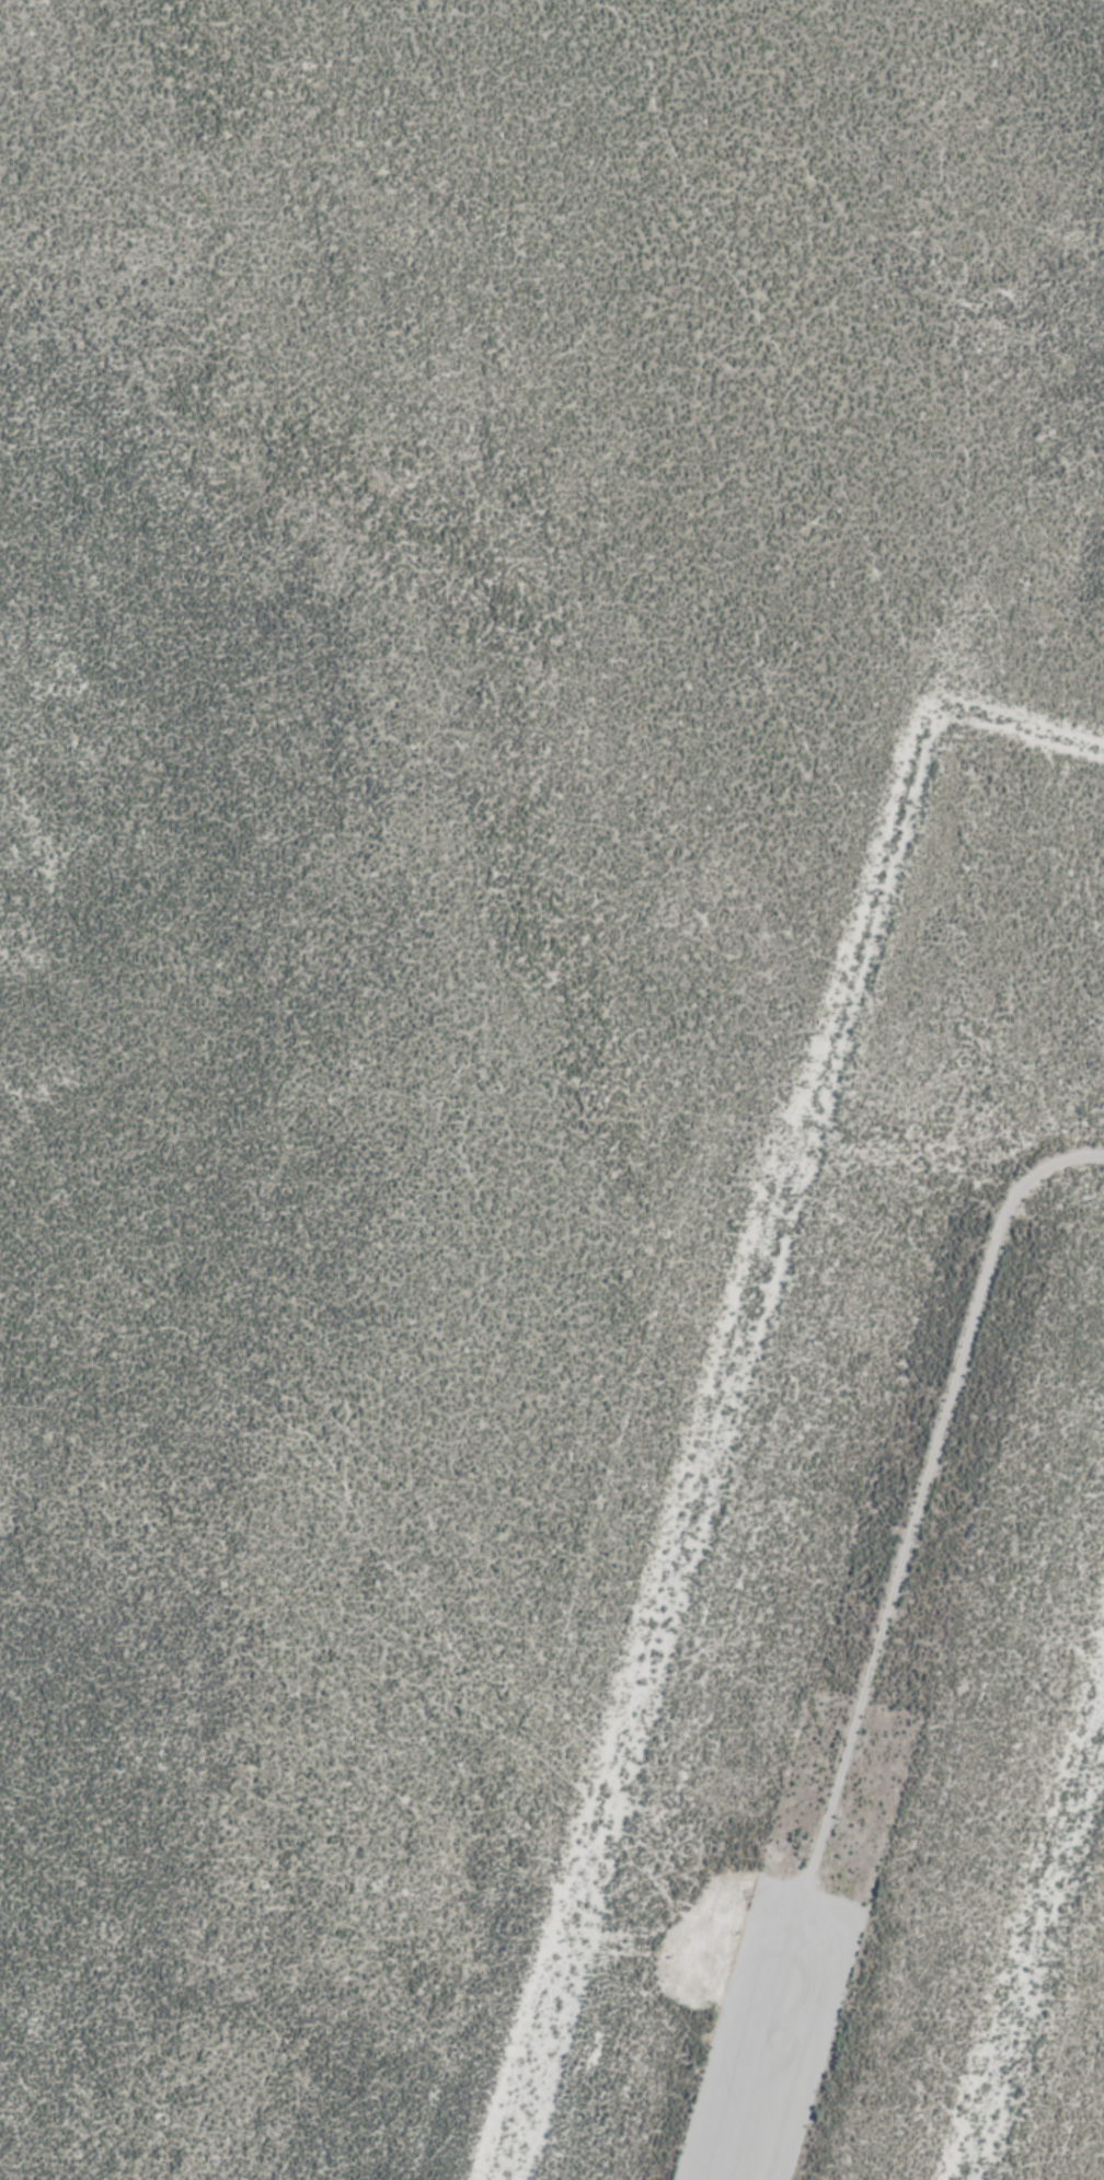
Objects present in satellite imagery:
road: (925, 1487)
airport runway: (771, 2030)

